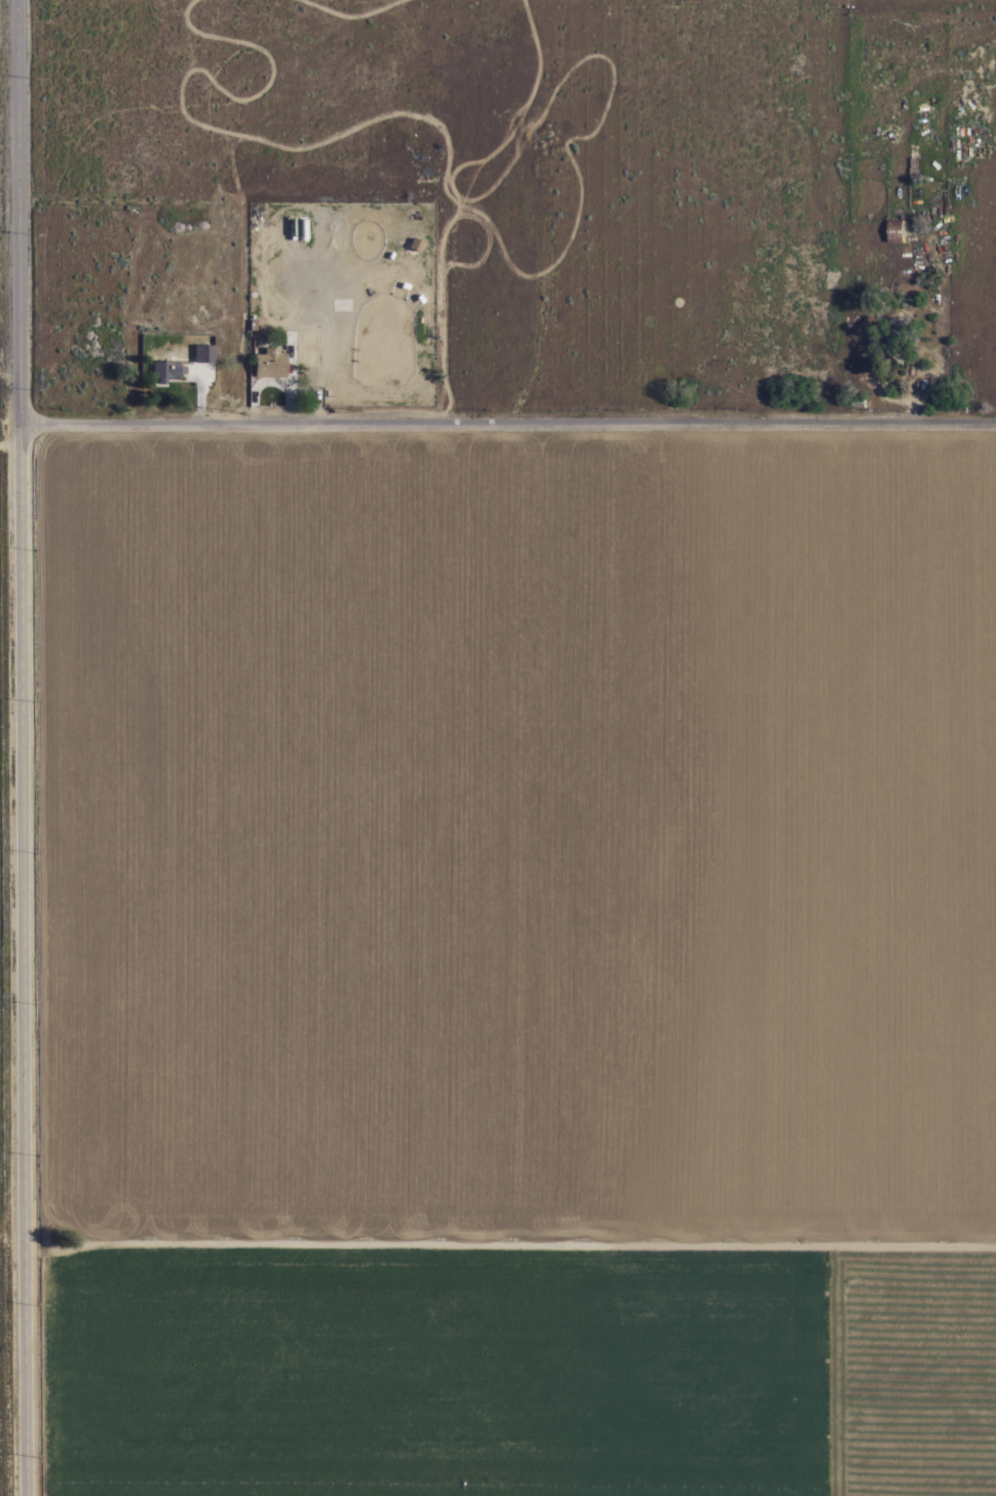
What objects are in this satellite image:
building: (913, 170)
building: (302, 229)
building: (895, 230)
building: (898, 333)
building: (204, 352)
building: (273, 361)
building: (166, 369)
road: (10, 429)
road: (508, 429)
road: (21, 747)
crop: (510, 960)

